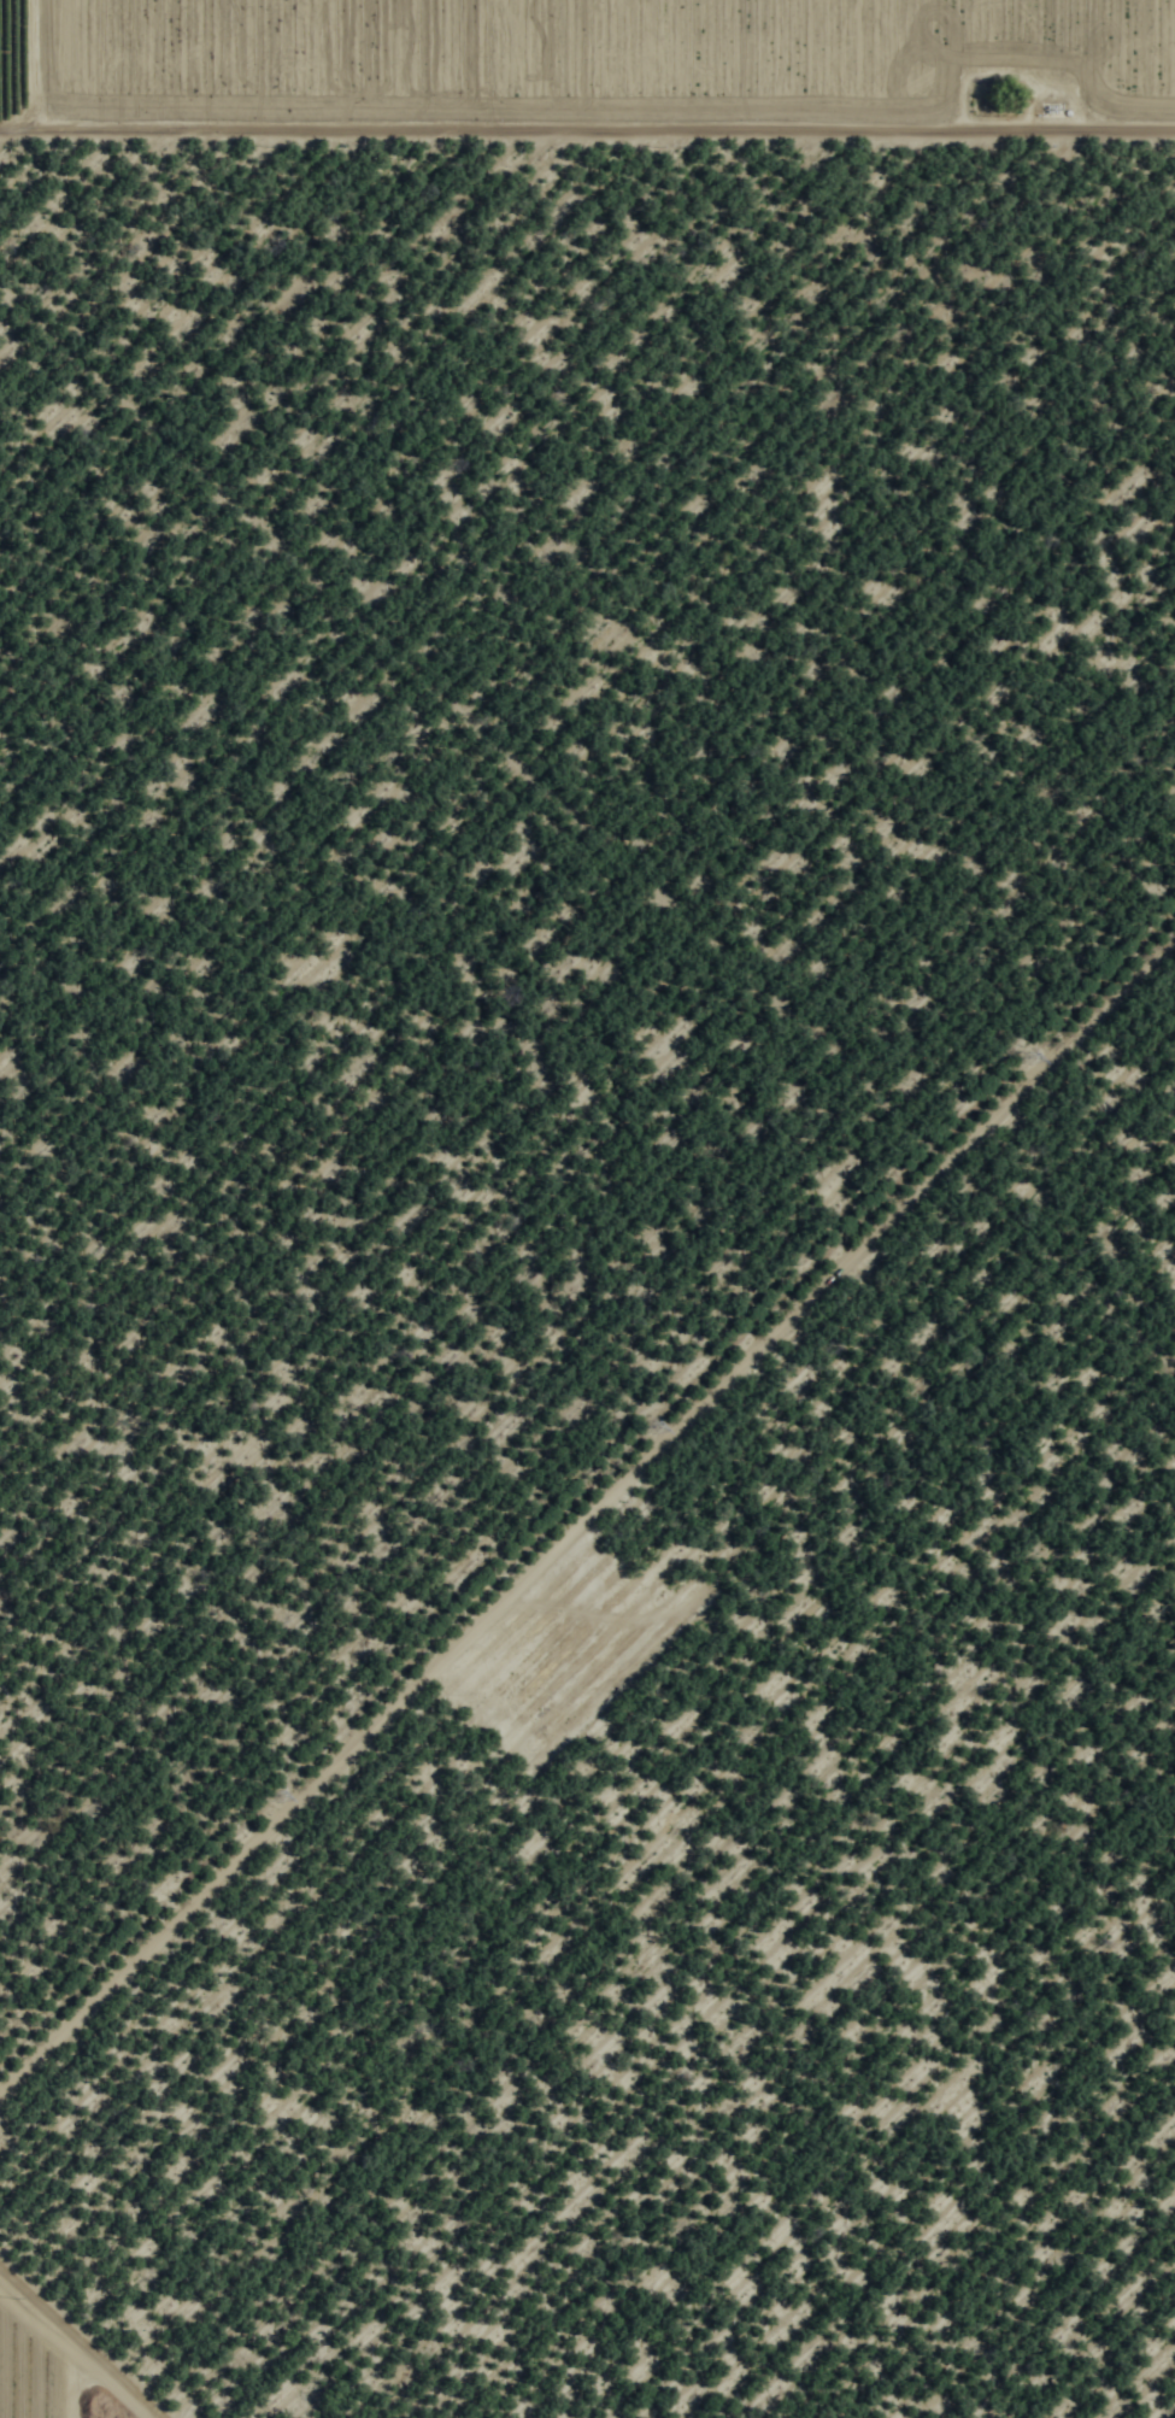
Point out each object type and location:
crop: (589, 71)
road: (587, 86)
power tower: (1034, 1054)
power tower: (653, 1418)
power tower: (281, 1796)

